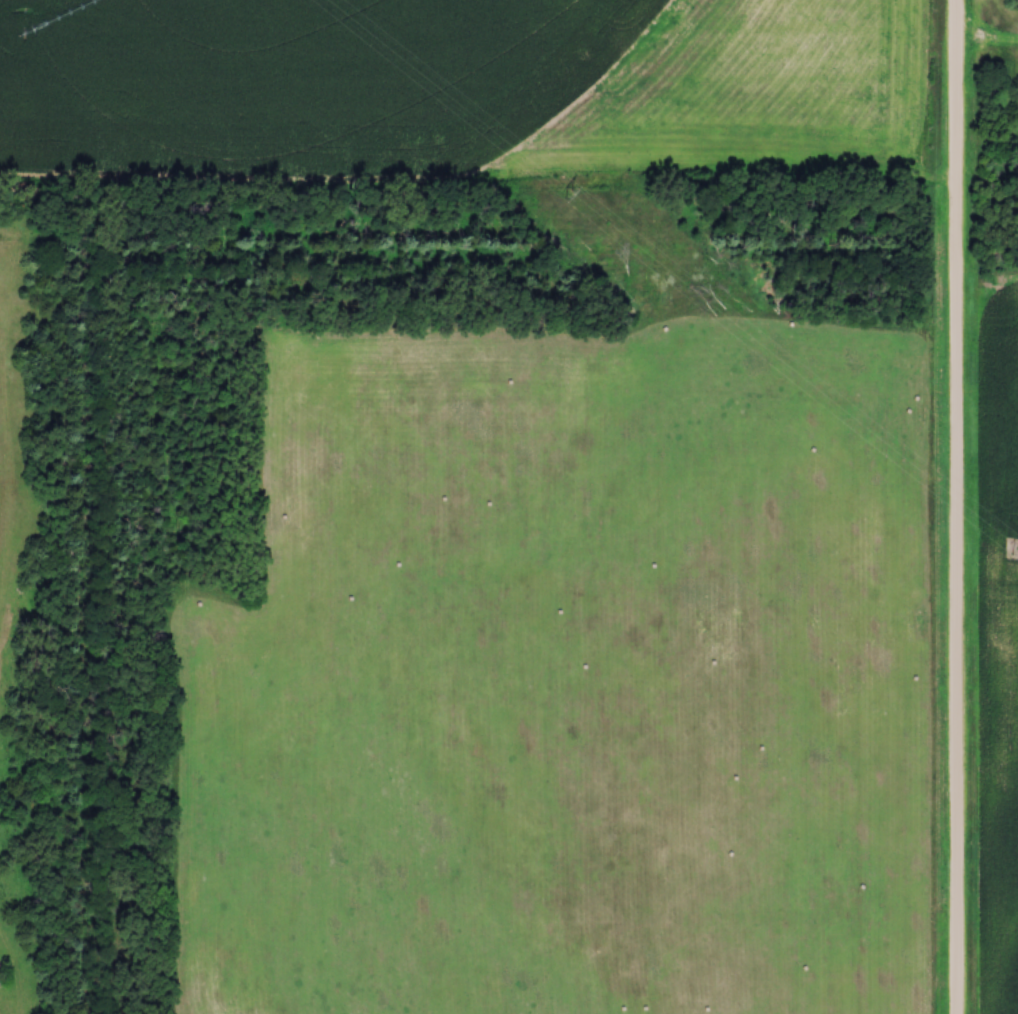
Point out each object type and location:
power tower: (575, 193)
road: (959, 506)
power tower: (1011, 549)

